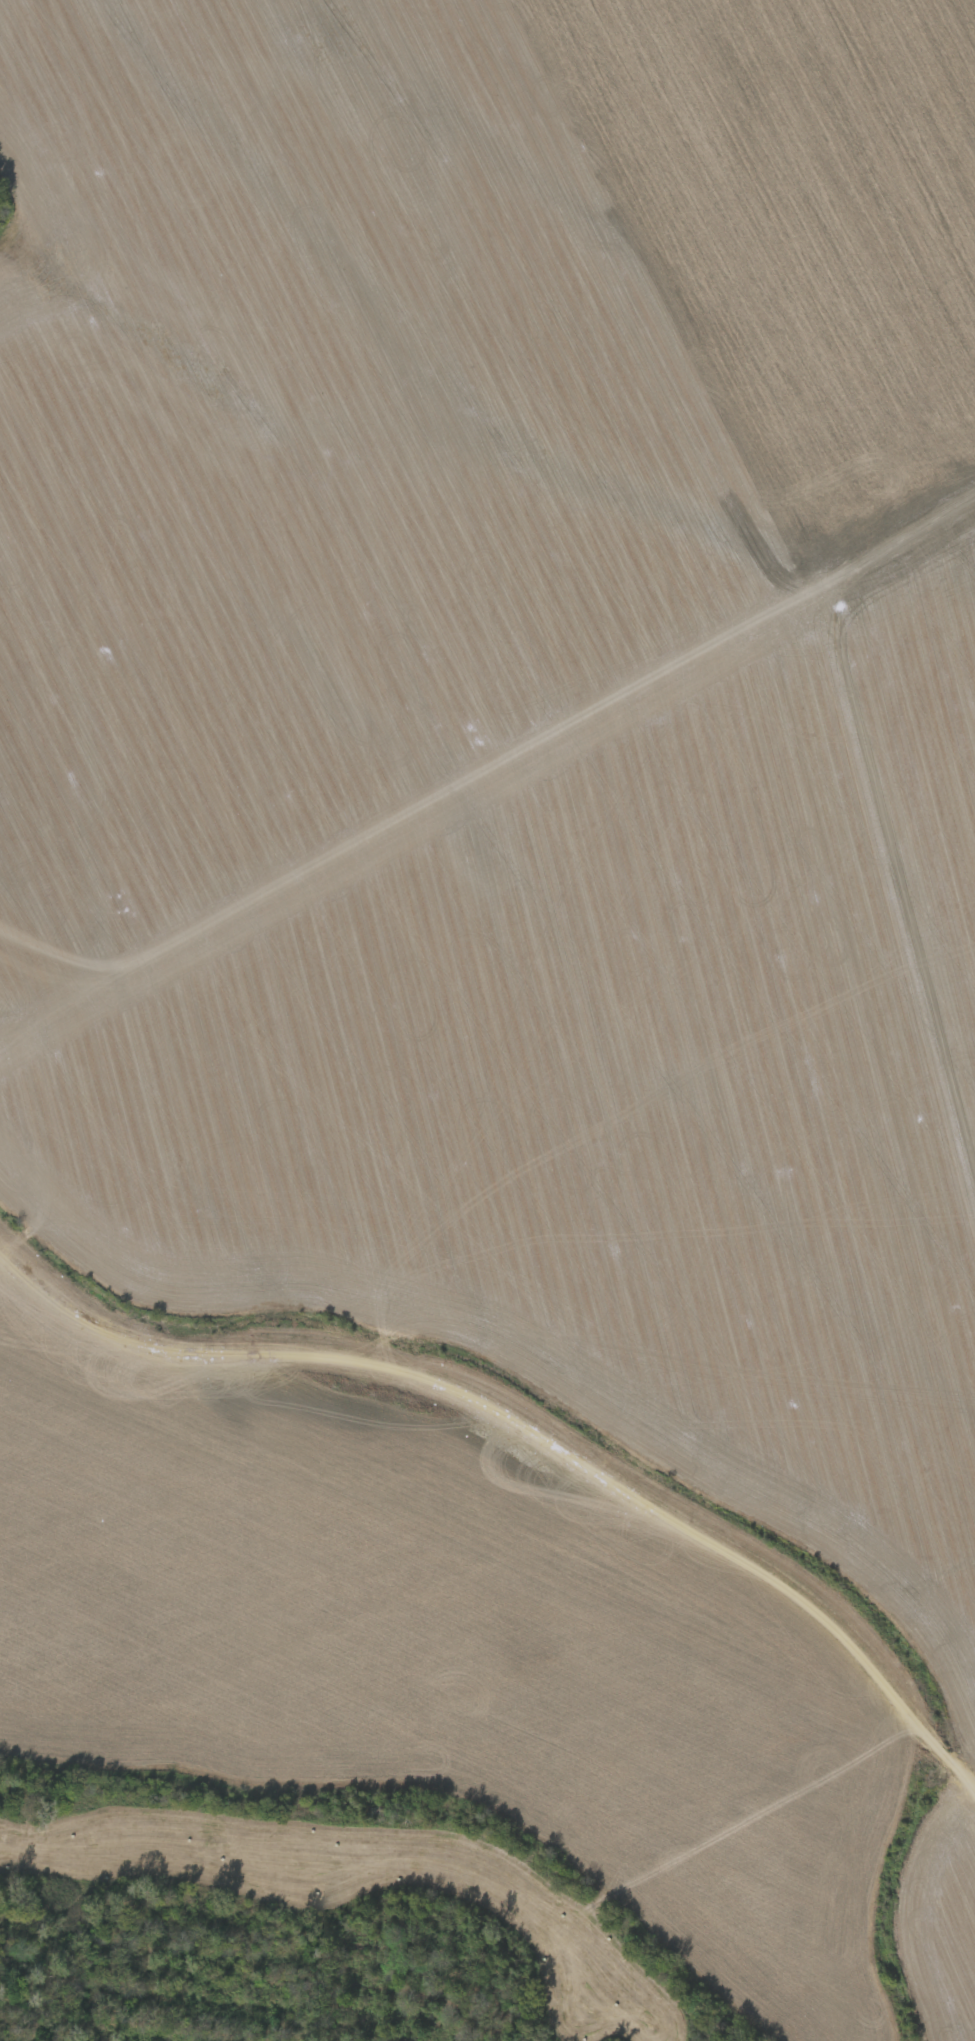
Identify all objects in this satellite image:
crop: (428, 396)
crop: (926, 732)
crop: (506, 1417)

